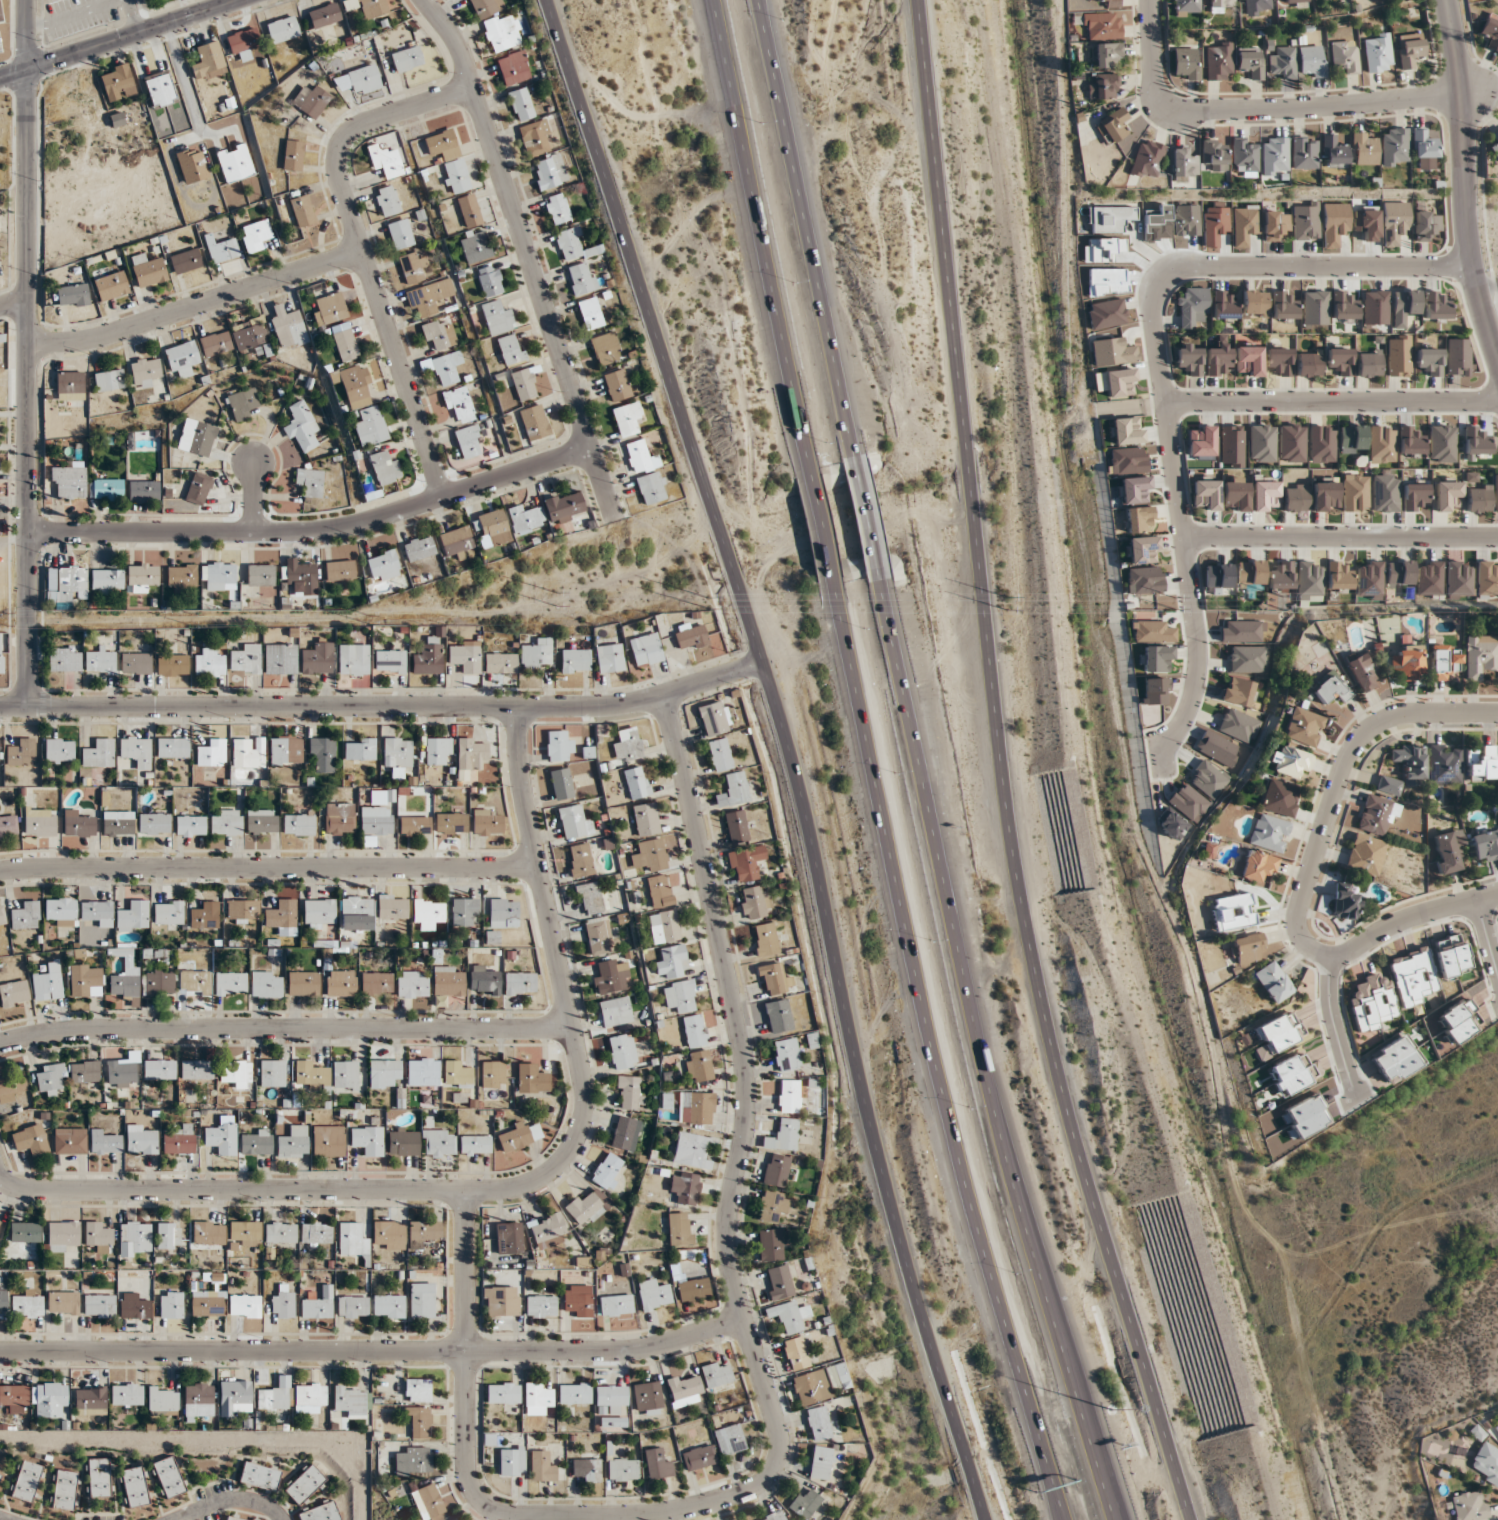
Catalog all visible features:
building: (1107, 3)
building: (1293, 3)
building: (1217, 5)
building: (368, 7)
building: (1186, 7)
building: (1257, 7)
building: (484, 8)
road: (133, 15)
road: (72, 16)
building: (324, 16)
building: (1102, 26)
building: (282, 29)
building: (1491, 32)
road: (25, 33)
road: (129, 33)
building: (501, 33)
building: (242, 43)
building: (1410, 50)
building: (1378, 53)
building: (1108, 55)
building: (1345, 56)
building: (407, 59)
building: (208, 61)
building: (1219, 61)
building: (1312, 61)
building: (1251, 62)
building: (1284, 62)
building: (1186, 63)
building: (514, 68)
road: (13, 71)
road: (182, 75)
building: (358, 81)
building: (117, 83)
building: (1107, 86)
building: (315, 102)
building: (522, 103)
road: (1256, 108)
building: (105, 123)
building: (1113, 126)
building: (1496, 137)
building: (535, 138)
building: (1395, 147)
building: (1364, 149)
building: (1423, 151)
building: (1496, 151)
building: (1333, 152)
building: (1304, 153)
building: (293, 155)
building: (1214, 155)
building: (1275, 156)
building: (1245, 157)
building: (1147, 159)
building: (449, 160)
building: (385, 161)
building: (235, 163)
building: (1184, 163)
building: (192, 165)
building: (549, 172)
road: (1462, 184)
building: (387, 201)
building: (557, 209)
building: (301, 210)
building: (469, 211)
building: (1396, 223)
road: (690, 224)
building: (1245, 224)
building: (1276, 224)
building: (1336, 224)
building: (1426, 225)
road: (804, 229)
park: (1489, 233)
building: (400, 234)
road: (758, 235)
building: (256, 236)
building: (571, 245)
building: (475, 247)
building: (221, 249)
road: (361, 252)
road: (526, 255)
building: (185, 261)
building: (412, 268)
building: (148, 270)
building: (582, 278)
building: (490, 281)
building: (112, 286)
building: (72, 296)
building: (429, 298)
building: (1255, 303)
road: (13, 304)
road: (195, 304)
building: (1224, 305)
building: (1343, 306)
building: (1191, 307)
building: (1283, 307)
building: (1404, 307)
building: (1315, 308)
building: (1435, 308)
building: (328, 309)
building: (1375, 309)
building: (591, 313)
building: (1106, 314)
building: (497, 318)
building: (287, 326)
building: (439, 333)
building: (249, 334)
building: (215, 344)
building: (345, 345)
building: (605, 348)
building: (511, 349)
building: (1113, 352)
building: (1400, 356)
building: (182, 357)
building: (1458, 357)
building: (1190, 358)
building: (1249, 360)
building: (1340, 360)
building: (1218, 361)
building: (1279, 361)
building: (1430, 361)
building: (1309, 364)
building: (1369, 364)
building: (444, 368)
road: (1157, 370)
building: (144, 372)
building: (109, 380)
building: (1120, 382)
building: (524, 383)
building: (69, 385)
building: (353, 385)
building: (617, 385)
road: (27, 387)
road: (1330, 401)
building: (242, 404)
building: (459, 404)
building: (628, 418)
building: (534, 422)
building: (301, 427)
building: (370, 427)
building: (1127, 431)
building: (196, 438)
building: (1352, 439)
building: (1411, 441)
building: (1476, 441)
building: (1200, 443)
building: (1262, 443)
building: (1292, 443)
building: (1442, 443)
building: (1322, 444)
building: (1382, 444)
building: (1232, 445)
building: (640, 458)
building: (1127, 461)
building: (384, 468)
building: (70, 481)
building: (309, 482)
building: (198, 487)
building: (106, 488)
building: (652, 488)
building: (143, 490)
building: (1135, 490)
building: (1355, 493)
building: (1385, 493)
building: (1447, 494)
building: (1205, 495)
building: (1236, 495)
building: (1265, 495)
building: (1481, 496)
road: (250, 497)
building: (1326, 497)
building: (1414, 497)
building: (1296, 498)
building: (1496, 506)
building: (565, 507)
building: (525, 518)
building: (1140, 520)
road: (864, 521)
building: (493, 527)
road: (313, 528)
road: (820, 534)
road: (1340, 538)
building: (457, 542)
building: (419, 548)
building: (1142, 550)
building: (383, 566)
building: (340, 571)
building: (1401, 573)
building: (1250, 574)
building: (219, 575)
building: (260, 575)
building: (141, 576)
building: (1219, 576)
building: (1281, 576)
building: (1339, 576)
building: (300, 577)
building: (181, 578)
building: (1430, 579)
building: (1487, 579)
building: (1144, 580)
building: (1370, 580)
building: (1459, 580)
building: (1310, 581)
building: (106, 582)
building: (67, 584)
building: (1241, 631)
building: (1151, 632)
building: (691, 638)
building: (646, 649)
building: (1, 653)
building: (536, 654)
building: (465, 656)
building: (1480, 656)
building: (428, 658)
building: (609, 658)
building: (246, 659)
building: (317, 659)
building: (354, 659)
building: (1155, 659)
building: (1247, 659)
building: (64, 660)
building: (281, 660)
building: (390, 661)
building: (575, 661)
building: (100, 662)
building: (1408, 662)
building: (1443, 662)
building: (135, 663)
building: (500, 663)
building: (209, 664)
building: (172, 665)
building: (1363, 672)
building: (1330, 689)
building: (1155, 691)
building: (1237, 692)
road: (398, 706)
road: (13, 708)
building: (715, 719)
building: (1239, 726)
building: (1302, 727)
building: (559, 746)
building: (628, 746)
building: (173, 748)
building: (1216, 748)
building: (359, 749)
building: (59, 750)
building: (438, 750)
building: (136, 752)
building: (286, 752)
building: (21, 753)
building: (211, 753)
building: (248, 753)
building: (397, 753)
road: (790, 753)
building: (99, 754)
building: (323, 754)
building: (471, 755)
building: (720, 755)
building: (1288, 762)
building: (1480, 763)
building: (1445, 764)
road: (1007, 769)
building: (1404, 769)
building: (1208, 778)
building: (637, 783)
building: (561, 784)
building: (736, 788)
building: (1280, 798)
building: (1189, 802)
building: (378, 814)
building: (1377, 815)
building: (340, 818)
building: (646, 819)
building: (575, 821)
building: (39, 822)
building: (262, 822)
building: (487, 822)
building: (154, 823)
building: (227, 823)
building: (451, 823)
building: (78, 824)
building: (118, 824)
building: (298, 825)
building: (415, 825)
building: (8, 826)
building: (191, 826)
building: (1173, 826)
building: (736, 827)
building: (1269, 833)
building: (1486, 846)
building: (1448, 851)
building: (651, 855)
building: (1366, 855)
building: (580, 860)
building: (745, 864)
building: (1258, 866)
road: (269, 867)
road: (1312, 869)
building: (659, 891)
building: (591, 898)
building: (1346, 901)
building: (755, 903)
building: (393, 908)
building: (61, 911)
building: (242, 911)
building: (463, 911)
building: (168, 912)
building: (428, 912)
building: (502, 912)
building: (1233, 912)
building: (97, 913)
building: (318, 913)
building: (357, 913)
building: (26, 916)
building: (133, 916)
building: (205, 916)
building: (282, 917)
building: (2, 918)
building: (664, 927)
building: (598, 936)
road: (1488, 938)
building: (491, 939)
building: (766, 940)
building: (1249, 946)
building: (1451, 956)
building: (672, 963)
building: (1413, 976)
building: (610, 978)
building: (484, 980)
building: (775, 980)
building: (86, 981)
building: (194, 981)
building: (448, 981)
building: (1274, 982)
building: (48, 983)
building: (125, 983)
building: (158, 983)
building: (377, 983)
building: (520, 983)
building: (230, 984)
building: (303, 984)
building: (341, 984)
building: (266, 985)
building: (412, 985)
building: (14, 994)
building: (680, 996)
building: (1373, 1004)
building: (615, 1012)
building: (778, 1017)
building: (1456, 1021)
road: (284, 1027)
road: (1335, 1028)
building: (694, 1031)
building: (1280, 1032)
building: (622, 1052)
building: (786, 1055)
road: (982, 1055)
building: (1394, 1059)
road: (935, 1062)
building: (699, 1066)
building: (158, 1070)
building: (196, 1070)
building: (385, 1070)
building: (85, 1072)
building: (423, 1072)
building: (121, 1073)
building: (272, 1073)
building: (310, 1074)
building: (1292, 1074)
building: (237, 1075)
building: (345, 1075)
building: (457, 1075)
building: (493, 1075)
building: (50, 1080)
building: (532, 1080)
building: (13, 1088)
building: (630, 1093)
building: (788, 1096)
building: (696, 1108)
building: (626, 1134)
building: (519, 1136)
building: (783, 1136)
building: (220, 1137)
building: (31, 1140)
building: (141, 1140)
building: (178, 1140)
building: (368, 1140)
building: (70, 1141)
building: (328, 1141)
building: (403, 1141)
building: (105, 1142)
building: (256, 1142)
building: (293, 1142)
building: (439, 1144)
building: (475, 1145)
building: (690, 1151)
building: (776, 1171)
building: (608, 1172)
road: (514, 1185)
building: (685, 1188)
building: (772, 1206)
building: (588, 1207)
building: (0, 1222)
building: (677, 1228)
building: (548, 1230)
building: (25, 1232)
building: (208, 1233)
building: (245, 1233)
building: (281, 1233)
building: (316, 1233)
building: (423, 1233)
building: (389, 1235)
building: (61, 1236)
building: (98, 1236)
building: (169, 1236)
building: (135, 1238)
building: (509, 1238)
building: (352, 1240)
building: (771, 1245)
building: (778, 1283)
building: (690, 1288)
building: (654, 1295)
building: (3, 1299)
building: (422, 1300)
building: (579, 1300)
building: (501, 1302)
building: (62, 1303)
building: (171, 1305)
building: (207, 1305)
building: (283, 1305)
building: (318, 1305)
building: (99, 1306)
building: (245, 1306)
building: (616, 1306)
building: (27, 1307)
building: (133, 1307)
building: (353, 1307)
building: (389, 1307)
building: (541, 1307)
building: (791, 1317)
road: (372, 1352)
building: (796, 1354)
building: (717, 1375)
road: (763, 1387)
building: (812, 1388)
building: (417, 1390)
building: (685, 1391)
building: (503, 1393)
building: (126, 1394)
building: (574, 1394)
building: (309, 1397)
building: (611, 1397)
building: (14, 1398)
building: (234, 1398)
building: (272, 1398)
building: (536, 1399)
building: (648, 1399)
building: (50, 1400)
building: (198, 1400)
building: (90, 1401)
building: (163, 1401)
building: (350, 1401)
building: (419, 1421)
building: (818, 1424)
building: (1497, 1428)
building: (730, 1440)
building: (699, 1458)
building: (512, 1461)
building: (413, 1462)
building: (821, 1463)
building: (658, 1464)
building: (1486, 1464)
building: (542, 1466)
building: (586, 1470)
building: (623, 1470)
building: (0, 1474)
building: (259, 1476)
building: (168, 1477)
building: (98, 1478)
building: (26, 1481)
building: (304, 1486)
building: (134, 1487)
building: (64, 1490)
road: (229, 1498)
building: (429, 1503)
building: (805, 1503)
building: (1470, 1506)
building: (320, 1513)
building: (777, 1515)
building: (234, 1518)
road: (0, 1519)

